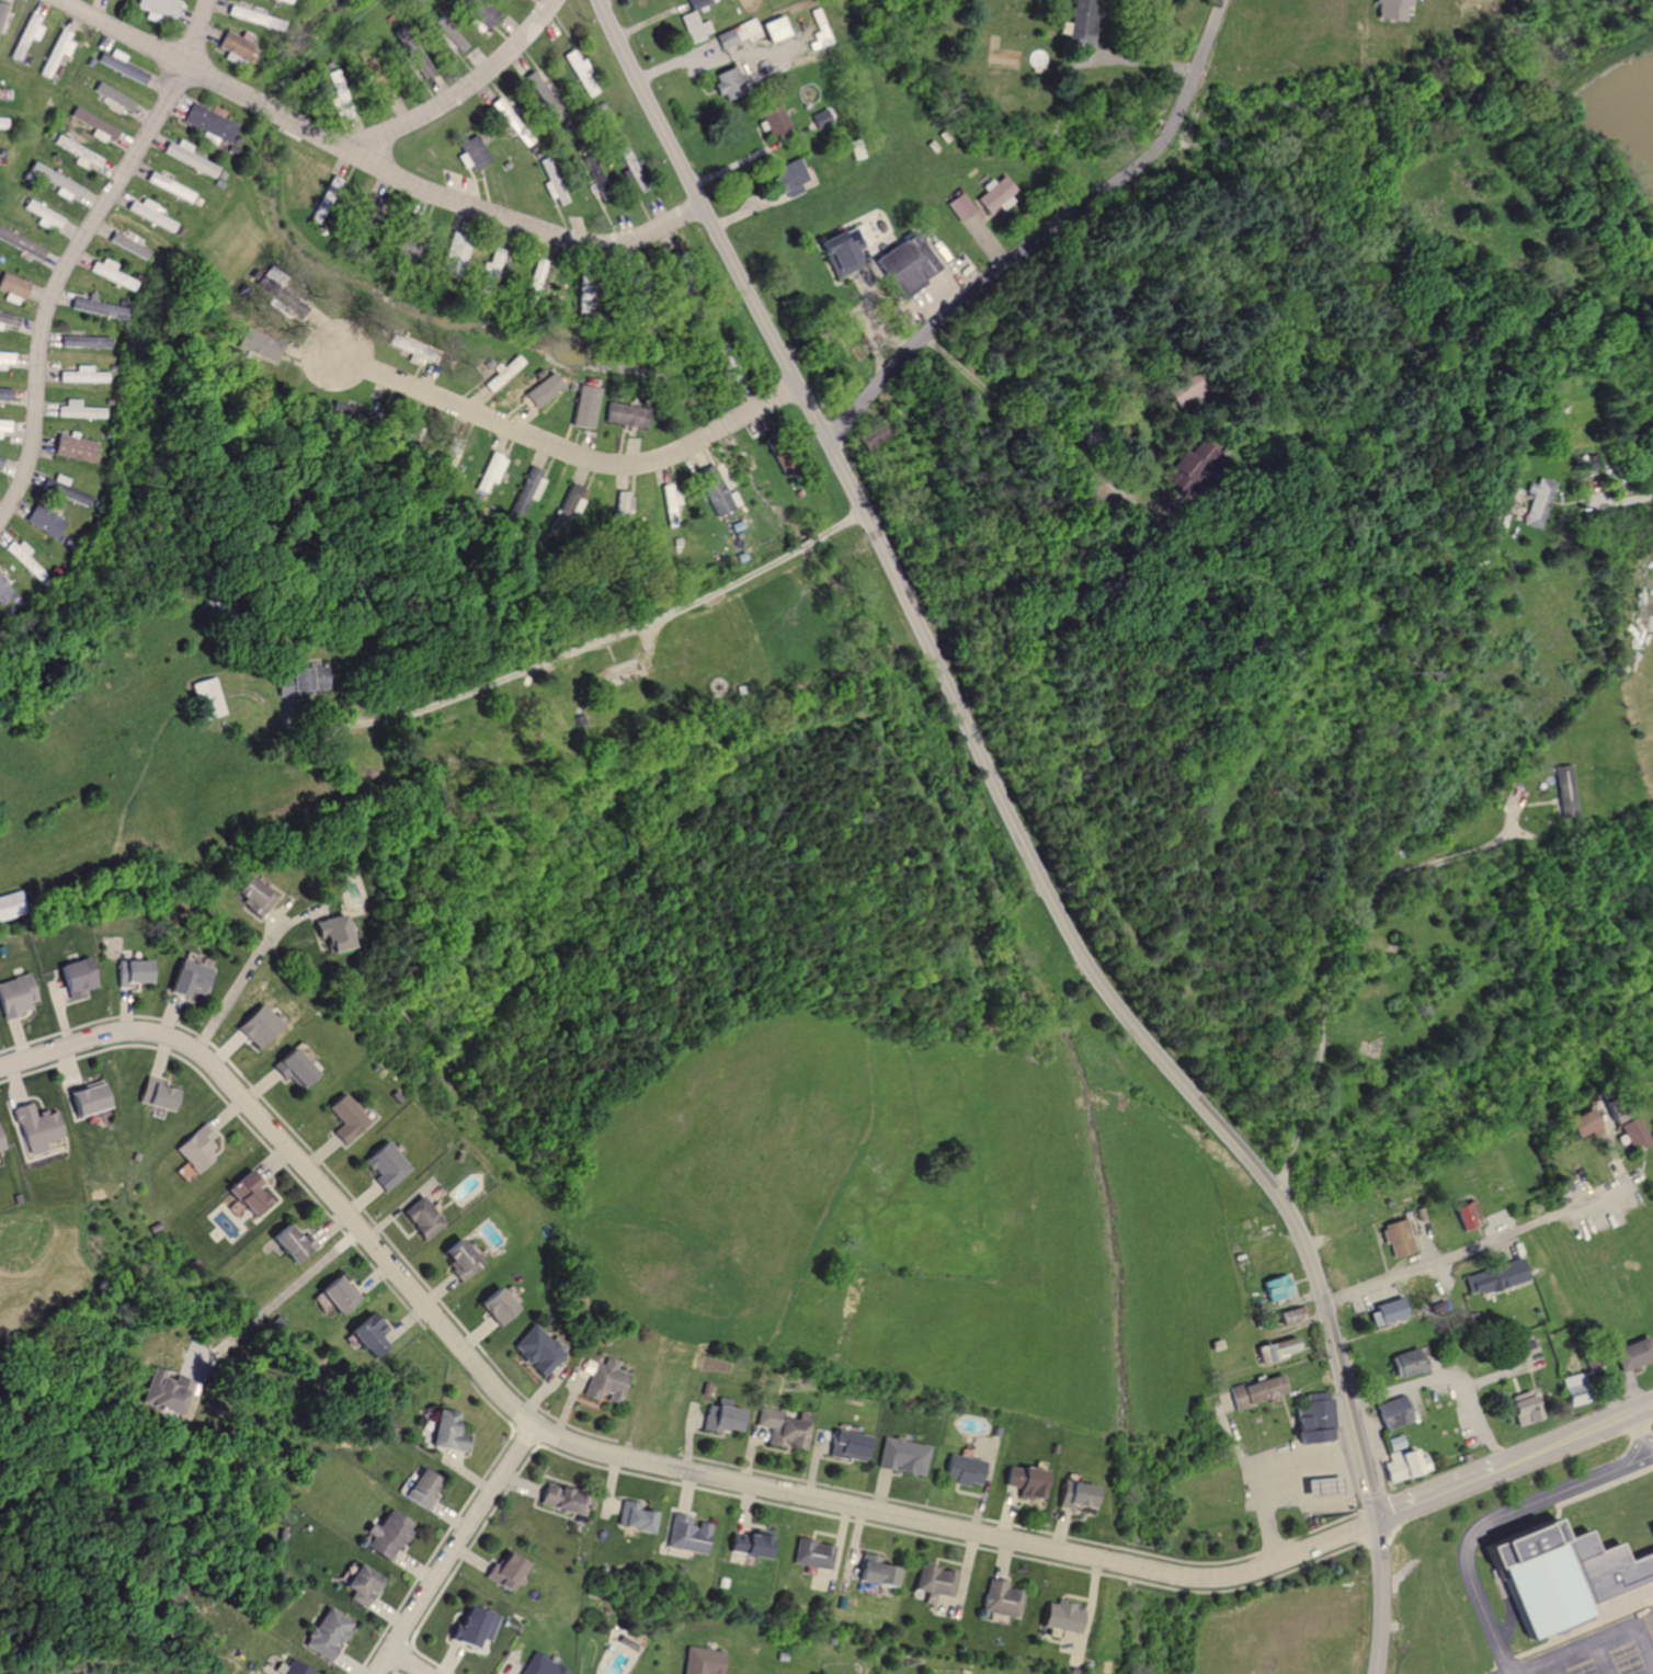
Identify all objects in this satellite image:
building: (696, 3)
building: (160, 9)
building: (1391, 9)
building: (478, 13)
building: (243, 14)
building: (4, 18)
building: (819, 23)
building: (693, 26)
building: (773, 29)
building: (1078, 31)
road: (195, 33)
building: (734, 34)
building: (30, 35)
building: (452, 38)
building: (231, 46)
road: (158, 50)
building: (58, 52)
building: (413, 61)
building: (122, 66)
building: (579, 73)
building: (723, 81)
road: (460, 88)
building: (535, 89)
building: (113, 95)
road: (264, 109)
building: (771, 118)
building: (3, 122)
building: (206, 123)
building: (95, 126)
building: (79, 152)
building: (468, 152)
building: (186, 159)
building: (787, 178)
building: (56, 182)
building: (166, 185)
building: (995, 194)
building: (958, 206)
road: (480, 212)
building: (148, 214)
building: (43, 215)
road: (1046, 234)
building: (20, 243)
building: (127, 246)
building: (840, 247)
building: (451, 254)
building: (903, 263)
building: (487, 266)
building: (104, 270)
road: (58, 281)
building: (12, 288)
building: (84, 305)
building: (8, 319)
building: (83, 342)
building: (261, 345)
building: (7, 358)
building: (84, 375)
building: (4, 394)
building: (583, 403)
road: (761, 405)
building: (81, 410)
building: (623, 414)
building: (5, 426)
road: (719, 429)
road: (521, 434)
building: (78, 448)
building: (0, 459)
building: (491, 471)
building: (711, 490)
building: (527, 491)
building: (666, 498)
road: (1622, 499)
building: (571, 502)
building: (1532, 502)
building: (620, 506)
building: (46, 522)
road: (841, 525)
road: (810, 542)
building: (25, 557)
building: (4, 591)
road: (548, 659)
building: (617, 672)
building: (289, 682)
building: (206, 698)
road: (985, 766)
building: (1566, 790)
building: (254, 897)
building: (9, 906)
building: (331, 934)
road: (1341, 964)
building: (133, 972)
building: (75, 976)
building: (187, 979)
road: (231, 994)
building: (14, 995)
building: (255, 1026)
building: (289, 1069)
building: (155, 1095)
building: (86, 1098)
building: (340, 1118)
building: (1582, 1125)
building: (33, 1129)
building: (1631, 1132)
building: (195, 1148)
building: (0, 1149)
building: (379, 1166)
building: (1466, 1214)
building: (418, 1218)
building: (1395, 1239)
building: (286, 1244)
road: (1477, 1246)
building: (456, 1261)
building: (1493, 1277)
building: (1276, 1287)
road: (284, 1294)
building: (334, 1295)
building: (492, 1307)
building: (1387, 1313)
building: (1289, 1317)
building: (367, 1336)
building: (1281, 1348)
building: (536, 1351)
building: (1631, 1353)
building: (1405, 1362)
building: (605, 1379)
road: (1447, 1379)
building: (1256, 1390)
building: (167, 1394)
building: (1521, 1407)
road: (1642, 1409)
building: (1392, 1412)
building: (727, 1415)
building: (1313, 1416)
building: (783, 1426)
building: (445, 1432)
road: (1639, 1436)
road: (1566, 1440)
building: (1393, 1443)
building: (847, 1446)
road: (606, 1455)
building: (901, 1456)
road: (1650, 1456)
building: (1404, 1464)
building: (961, 1470)
road: (1273, 1477)
building: (1019, 1480)
building: (1322, 1487)
gas station: (1322, 1487)
building: (423, 1489)
road: (1436, 1492)
building: (1072, 1494)
building: (565, 1498)
building: (637, 1516)
road: (1494, 1516)
building: (1650, 1530)
building: (390, 1534)
building: (688, 1534)
building: (750, 1542)
road: (457, 1549)
building: (812, 1555)
building: (508, 1570)
building: (876, 1571)
building: (1557, 1571)
building: (933, 1580)
building: (363, 1584)
road: (1380, 1597)
building: (998, 1598)
building: (1057, 1616)
building: (477, 1626)
building: (330, 1632)
building: (628, 1642)
road: (1604, 1645)
building: (703, 1661)
road: (1601, 1661)
road: (410, 1663)
building: (540, 1666)
road: (1503, 1667)
building: (293, 1669)
road: (1554, 1670)

